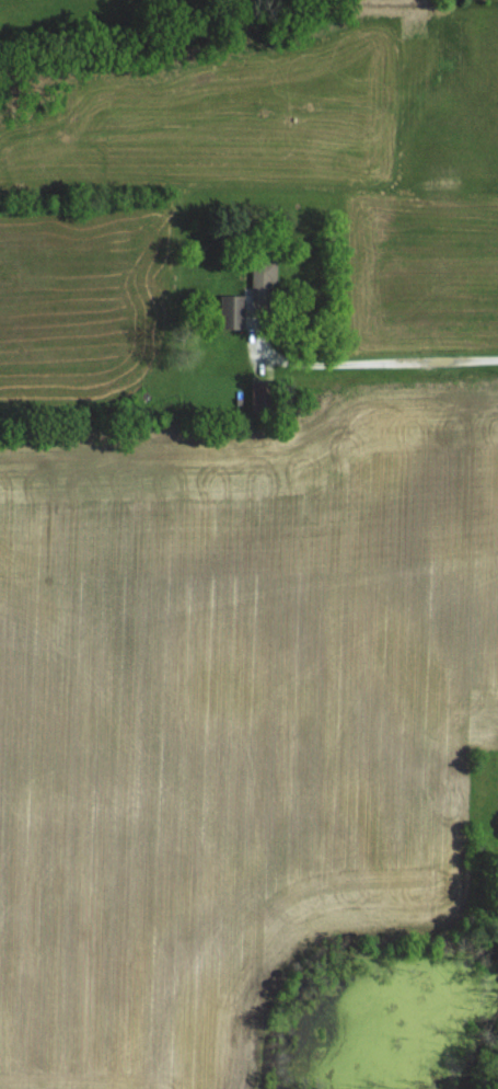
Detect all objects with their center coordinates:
building: (264, 282)
building: (232, 312)
road: (371, 357)
building: (263, 398)

